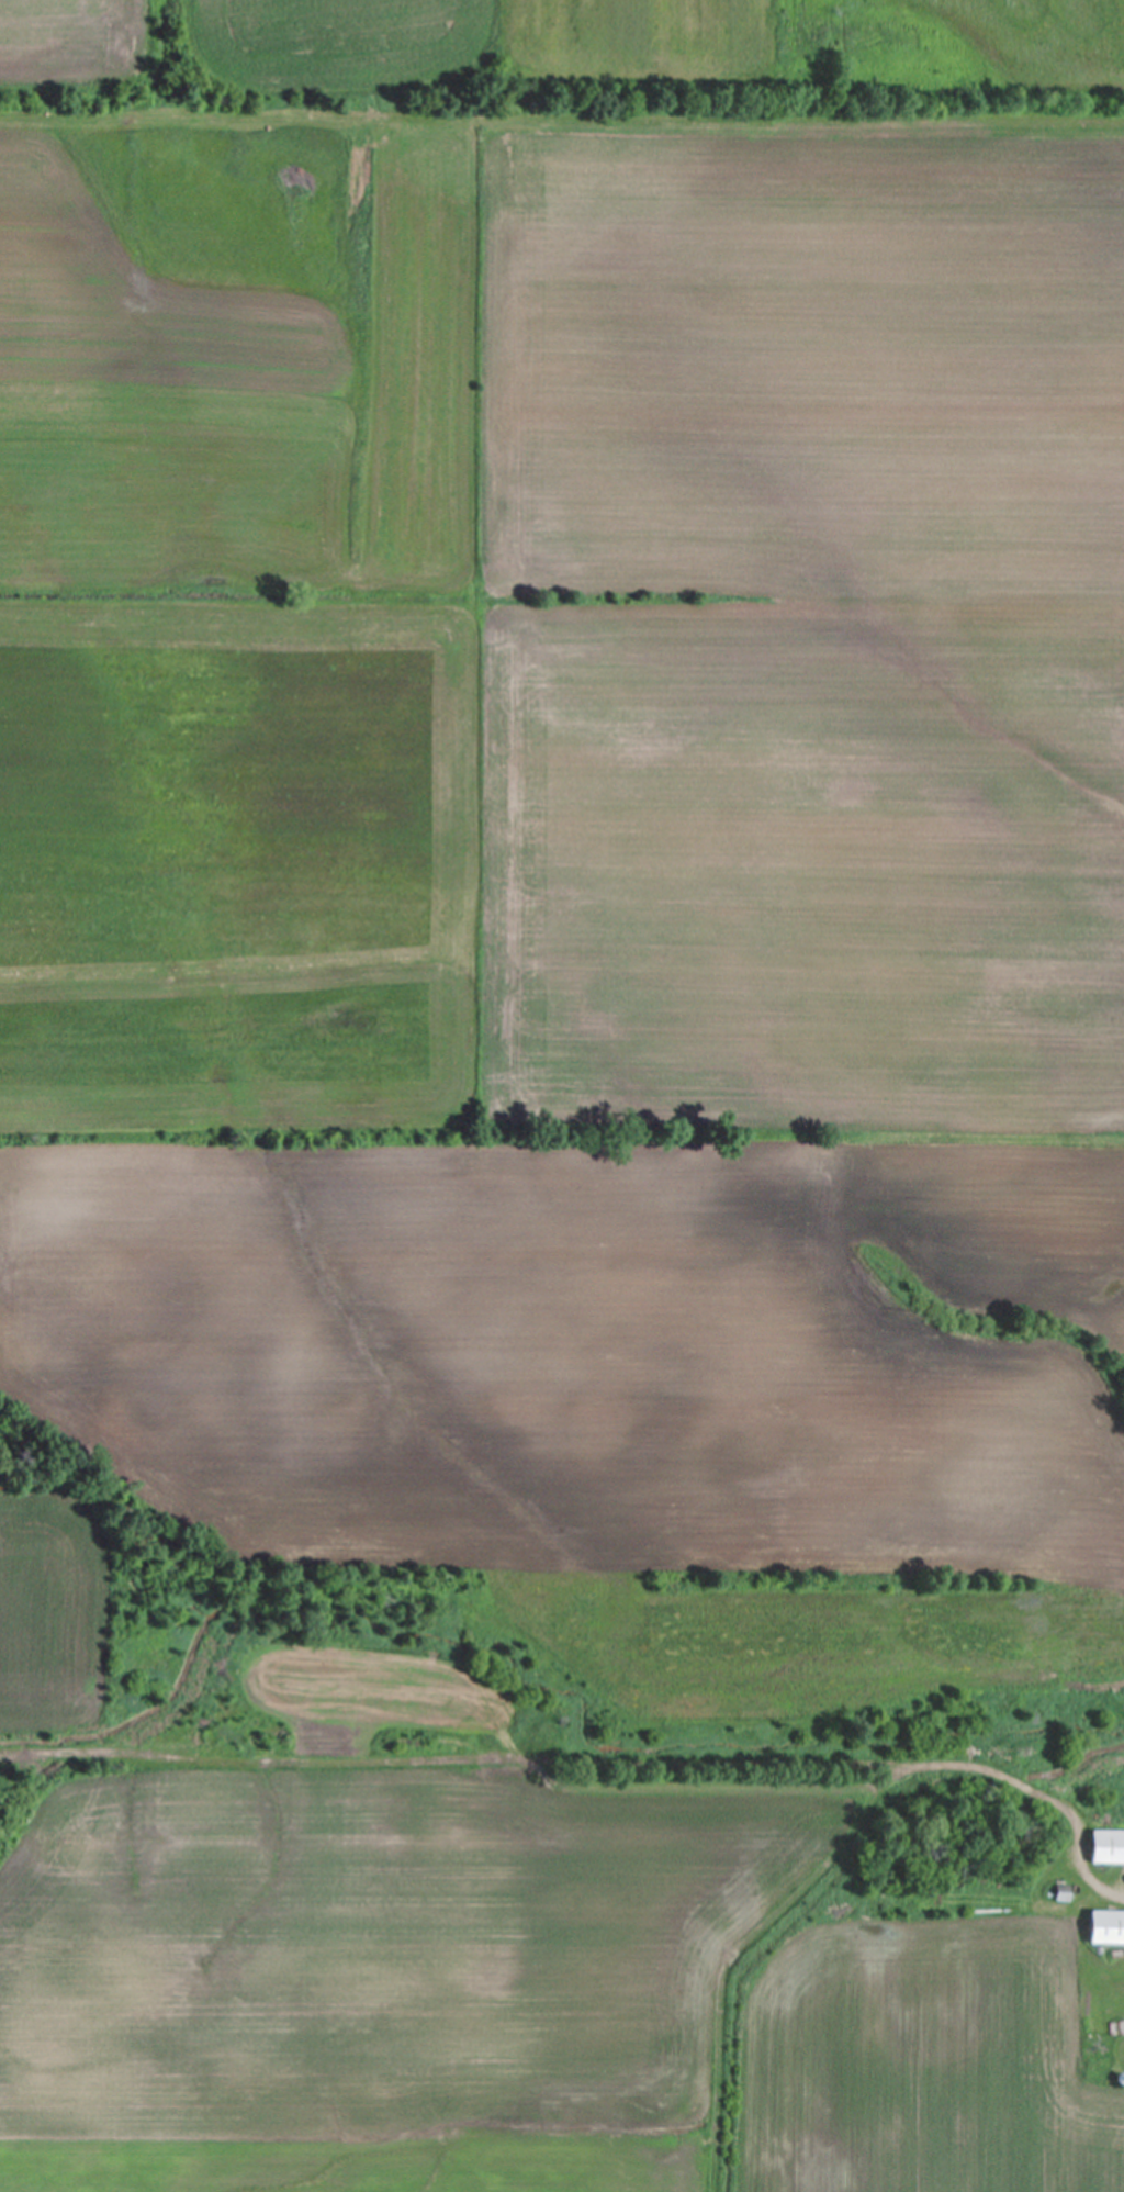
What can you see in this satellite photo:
building: (1105, 1846)
road: (1089, 1885)
building: (1104, 1926)

